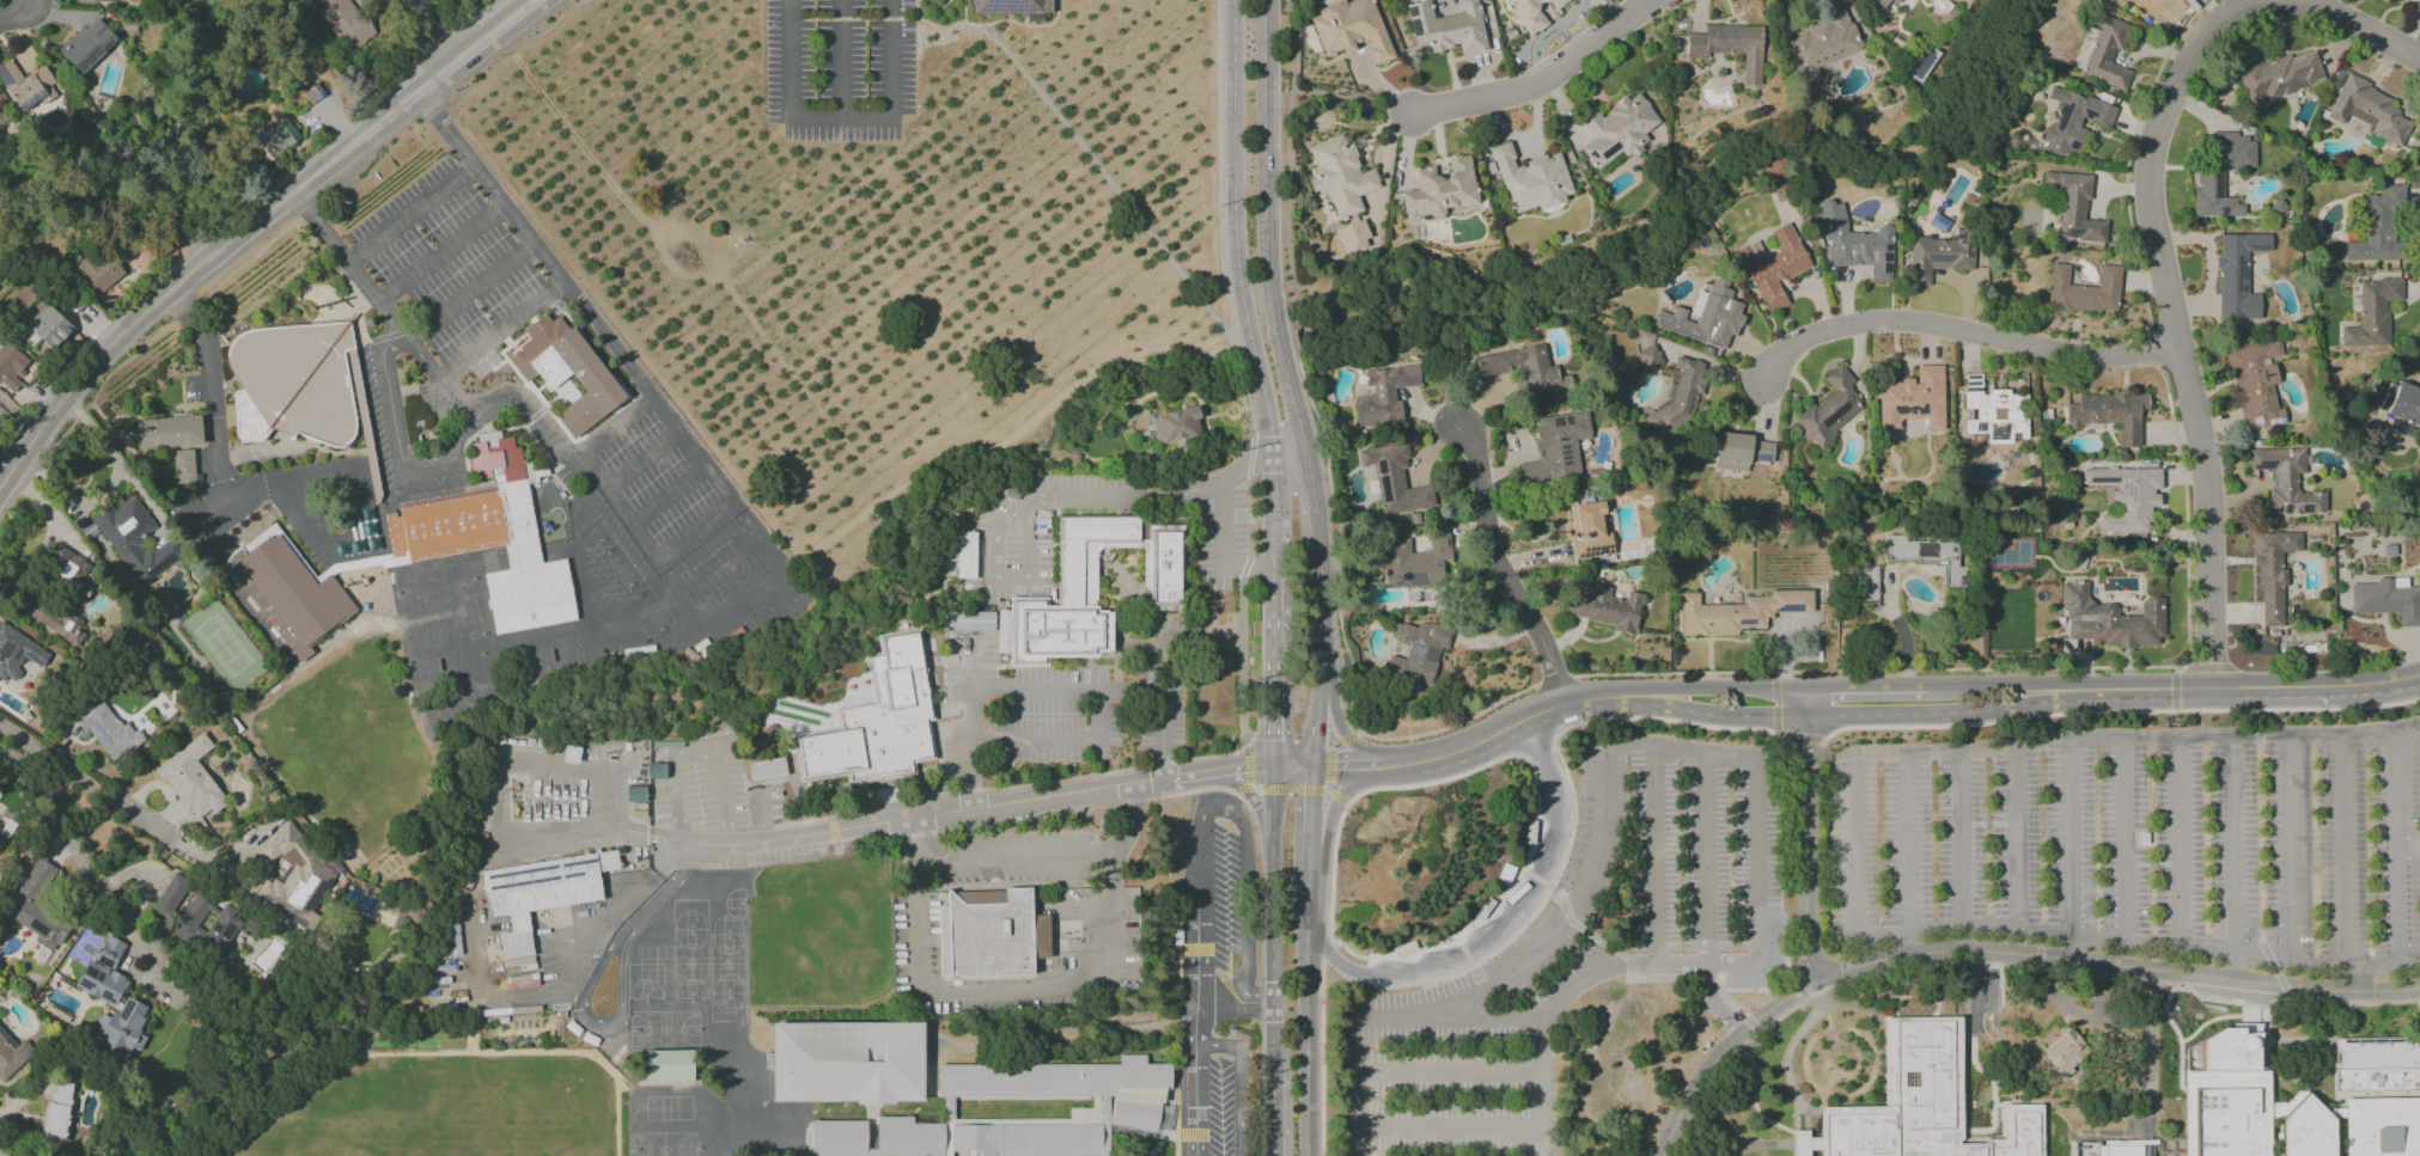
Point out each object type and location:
building: (103, 0)
road: (918, 0)
rooftop solar panel: (998, 4)
rooftop solar panel: (1016, 4)
building: (1876, 4)
building: (2150, 6)
building: (1013, 7)
road: (918, 10)
rooftop solar panel: (1412, 11)
building: (1530, 13)
road: (22, 17)
building: (343, 22)
road: (933, 25)
rooftop solar panel: (126, 26)
rooftop solar panel: (1414, 26)
building: (1446, 27)
road: (918, 29)
building: (1349, 29)
road: (2361, 29)
road: (435, 31)
rooftop solar panel: (105, 43)
building: (1819, 43)
building: (86, 44)
building: (1730, 47)
building: (2104, 51)
road: (507, 53)
road: (840, 59)
rooftop solar panel: (1920, 66)
parking lot: (840, 68)
building: (2278, 77)
building: (26, 85)
road: (1544, 85)
road: (1335, 99)
building: (2369, 110)
road: (839, 120)
building: (2072, 120)
building: (1616, 129)
building: (275, 140)
road: (575, 140)
rooftop solar panel: (1608, 151)
road: (994, 175)
building: (1774, 175)
building: (1339, 176)
building: (2212, 178)
road: (1108, 179)
building: (1532, 179)
rooftop solar panel: (2220, 182)
building: (1440, 189)
building: (2074, 206)
road: (412, 214)
building: (2377, 226)
road: (248, 228)
rooftop solar panel: (2070, 233)
building: (1351, 237)
building: (1855, 243)
road: (166, 247)
road: (441, 255)
building: (1937, 257)
parking lot: (446, 261)
rooftop solar panel: (1938, 261)
road: (348, 263)
road: (671, 264)
building: (1774, 267)
building: (98, 270)
building: (2237, 275)
building: (2083, 290)
road: (470, 293)
road: (575, 296)
parking lot: (549, 307)
road: (2170, 310)
building: (2371, 313)
road: (1244, 314)
building: (1705, 317)
building: (45, 329)
road: (498, 329)
rooftop solar panel: (1683, 331)
road: (1962, 331)
road: (1274, 334)
road: (1239, 338)
parking lot: (506, 340)
rooftop solar panel: (1717, 343)
building: (1648, 357)
rooftop solar panel: (2263, 362)
building: (12, 367)
road: (1299, 368)
building: (568, 369)
building: (1524, 369)
rooftop solar panel: (2262, 373)
road: (211, 380)
parking lot: (477, 383)
building: (294, 384)
building: (2255, 384)
rooftop solar panel: (2266, 391)
building: (1383, 394)
road: (449, 397)
building: (1680, 397)
building: (1913, 399)
parking lot: (434, 403)
road: (22, 408)
building: (1830, 408)
building: (2401, 408)
rooftop solar panel: (1908, 409)
rooftop solar panel: (1837, 411)
building: (1993, 411)
building: (2108, 414)
parking lot: (374, 415)
road: (394, 421)
building: (1175, 424)
rooftop solar panel: (1981, 428)
building: (169, 432)
road: (1513, 439)
road: (556, 440)
building: (1555, 448)
building: (1739, 452)
rooftop solar panel: (1763, 457)
road: (642, 460)
rooftop solar panel: (2264, 464)
building: (182, 469)
rooftop solar panel: (1380, 470)
rooftop solar panel: (2279, 476)
road: (889, 477)
parking lot: (656, 479)
building: (1394, 479)
parking lot: (569, 481)
rooftop solar panel: (2102, 481)
road: (289, 482)
building: (2285, 482)
rooftop solar panel: (2127, 490)
rooftop solar panel: (1383, 491)
building: (2127, 496)
road: (669, 497)
road: (1153, 502)
parking lot: (188, 503)
road: (617, 503)
rooftop solar panel: (2305, 508)
rooftop solar panel: (2285, 509)
rooftop solar panel: (2275, 510)
parking lot: (234, 520)
building: (367, 521)
rooftop solar panel: (134, 525)
parking lot: (1030, 528)
rooftop solar panel: (132, 531)
road: (693, 531)
building: (1589, 531)
rooftop solar panel: (110, 534)
park: (593, 534)
building: (492, 538)
building: (130, 539)
parking lot: (1223, 539)
road: (1221, 551)
building: (965, 555)
building: (1925, 556)
building: (1413, 562)
park: (717, 563)
road: (1500, 565)
park: (616, 568)
building: (67, 569)
building: (1163, 569)
building: (2272, 571)
building: (1073, 575)
road: (1007, 577)
rooftop solar panel: (1409, 580)
park: (432, 588)
building: (287, 592)
building: (2387, 599)
building: (1605, 607)
rooftop solar panel: (1785, 611)
park: (647, 612)
building: (1738, 612)
building: (48, 616)
building: (2110, 619)
building: (971, 620)
road: (708, 625)
park: (419, 631)
building: (1002, 631)
building: (1056, 632)
park: (444, 640)
park: (224, 646)
rooftop solar panel: (1414, 649)
building: (1416, 650)
building: (18, 653)
park: (551, 655)
rooftop solar panel: (1419, 657)
park: (438, 663)
road: (973, 667)
road: (2202, 668)
road: (1870, 671)
road: (1552, 677)
road: (2316, 689)
road: (2174, 690)
road: (1110, 692)
road: (1270, 696)
road: (1864, 697)
parking lot: (1049, 711)
road: (2115, 711)
road: (1317, 714)
road: (1662, 720)
building: (877, 722)
road: (1452, 724)
road: (1775, 726)
building: (106, 729)
rooftop solar panel: (102, 735)
road: (1346, 738)
road: (1347, 738)
road: (2328, 738)
road: (1060, 739)
road: (2221, 739)
traffic signals: (1272, 742)
road: (1471, 745)
road: (2086, 746)
road: (1534, 747)
road: (973, 750)
road: (697, 751)
road: (1980, 753)
road: (1886, 754)
road: (1497, 759)
road: (1292, 765)
traffic signals: (1335, 765)
road: (1366, 765)
traffic signals: (1245, 766)
road: (1250, 766)
road: (1330, 767)
building: (766, 769)
road: (1217, 770)
building: (190, 779)
road: (1242, 791)
road: (1290, 791)
parking lot: (712, 794)
road: (1248, 796)
traffic signals: (1311, 796)
road: (1337, 799)
road: (1756, 803)
road: (1335, 806)
road: (122, 808)
road: (1202, 815)
road: (914, 819)
road: (1559, 819)
road: (762, 820)
road: (581, 830)
road: (1310, 831)
road: (2395, 834)
road: (1804, 842)
road: (1019, 856)
parking lot: (1017, 858)
road: (1654, 861)
road: (80, 862)
rooftop solar panel: (574, 862)
rooftop solar panel: (519, 871)
rooftop solar panel: (569, 875)
building: (292, 876)
rooftop solar panel: (531, 881)
road: (664, 889)
road: (1547, 893)
building: (169, 895)
parking lot: (1225, 897)
road: (1602, 897)
park: (817, 901)
road: (1706, 901)
park: (734, 904)
building: (33, 907)
park: (690, 915)
road: (1309, 915)
park: (727, 925)
road: (1577, 925)
rooftop solar panel: (39, 926)
building: (209, 926)
road: (1499, 932)
building: (986, 934)
road: (2136, 942)
road: (1270, 943)
road: (1329, 952)
road: (1463, 952)
rooftop solar panel: (114, 954)
road: (2048, 958)
road: (1456, 961)
rooftop solar panel: (105, 962)
road: (1339, 962)
road: (571, 964)
park: (664, 964)
park: (691, 964)
park: (717, 964)
park: (727, 964)
park: (736, 964)
park: (646, 965)
park: (681, 965)
park: (697, 965)
park: (818, 967)
rooftop solar panel: (89, 971)
building: (103, 973)
rooftop solar panel: (100, 975)
road: (1406, 977)
road: (1665, 979)
road: (1707, 979)
park: (646, 981)
rooftop solar panel: (85, 983)
road: (1030, 992)
rooftop solar panel: (108, 996)
road: (1727, 999)
road: (1974, 1004)
rooftop solar panel: (126, 1008)
park: (729, 1008)
parking lot: (1980, 1008)
road: (1384, 1022)
road: (598, 1025)
road: (1752, 1025)
building: (122, 1028)
park: (665, 1030)
rooftop solar panel: (4, 1041)
road: (1307, 1044)
road: (2134, 1048)
building: (2065, 1054)
building: (12, 1056)
building: (2192, 1058)
building: (847, 1062)
building: (669, 1065)
building: (2377, 1066)
road: (1197, 1075)
road: (1452, 1075)
building: (1054, 1078)
road: (1242, 1081)
road: (1752, 1090)
road: (20, 1100)
park: (435, 1103)
building: (1922, 1103)
park: (668, 1108)
parking lot: (1220, 1108)
road: (1682, 1108)
building: (57, 1109)
building: (2226, 1113)
building: (1134, 1117)
road: (1452, 1127)
building: (2383, 1127)
building: (2308, 1130)
building: (910, 1136)
building: (840, 1139)
road: (1270, 1139)
road: (1274, 1139)
building: (1026, 1140)
park: (280, 1142)
park: (664, 1144)
building: (2110, 1145)
road: (1758, 1146)
building: (2, 1154)

